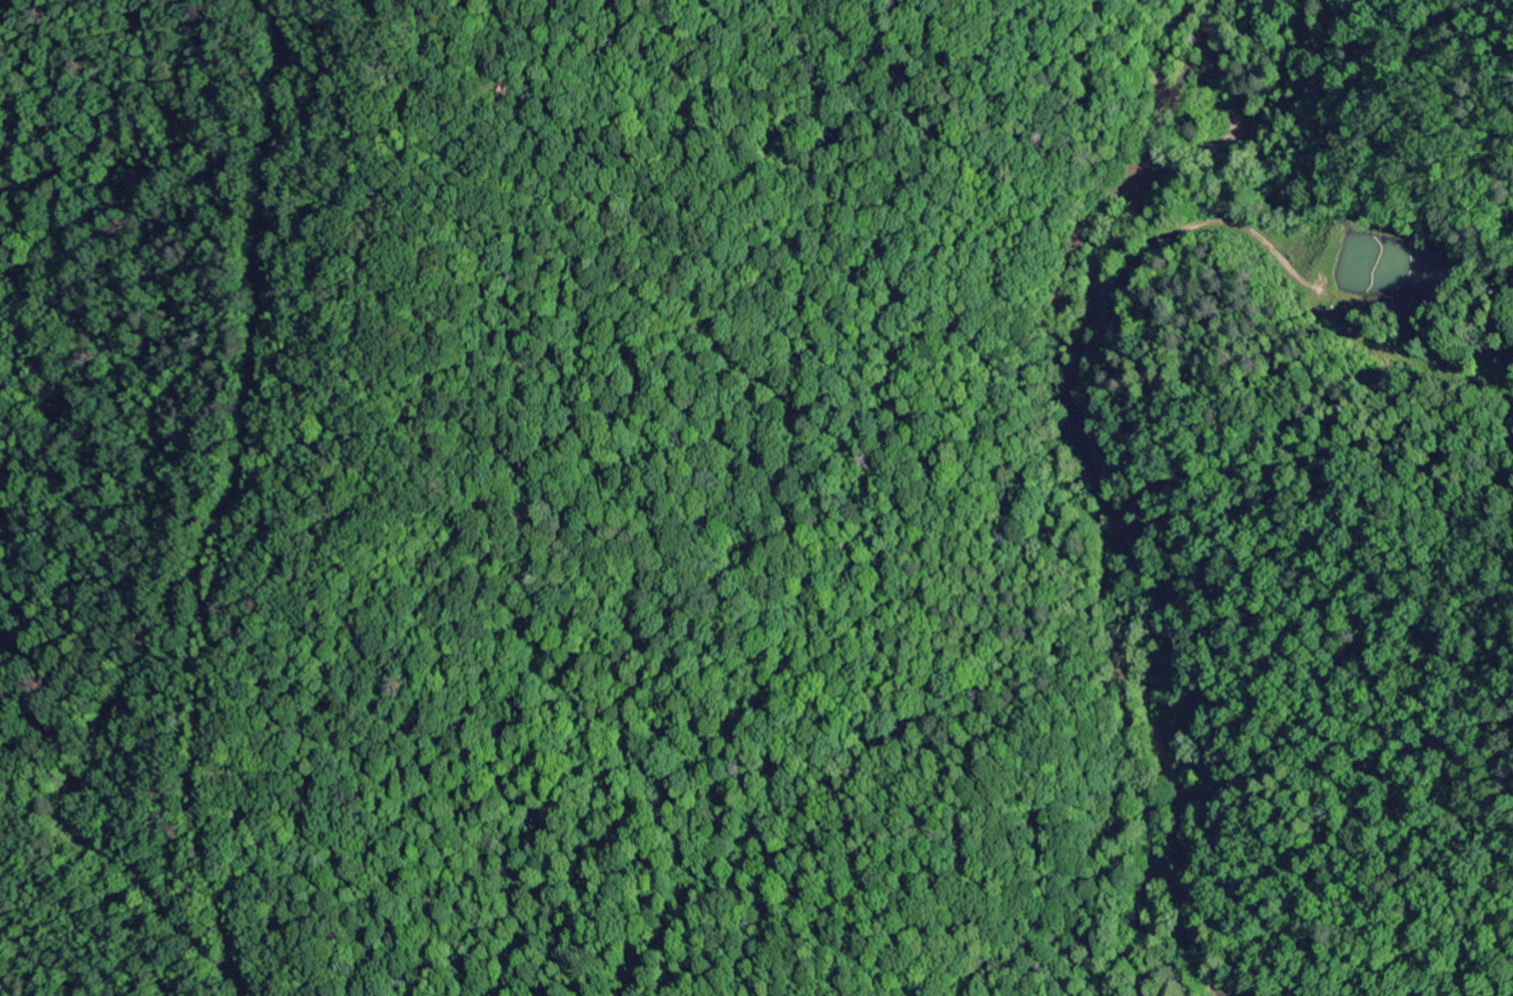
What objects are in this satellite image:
road: (1115, 499)

